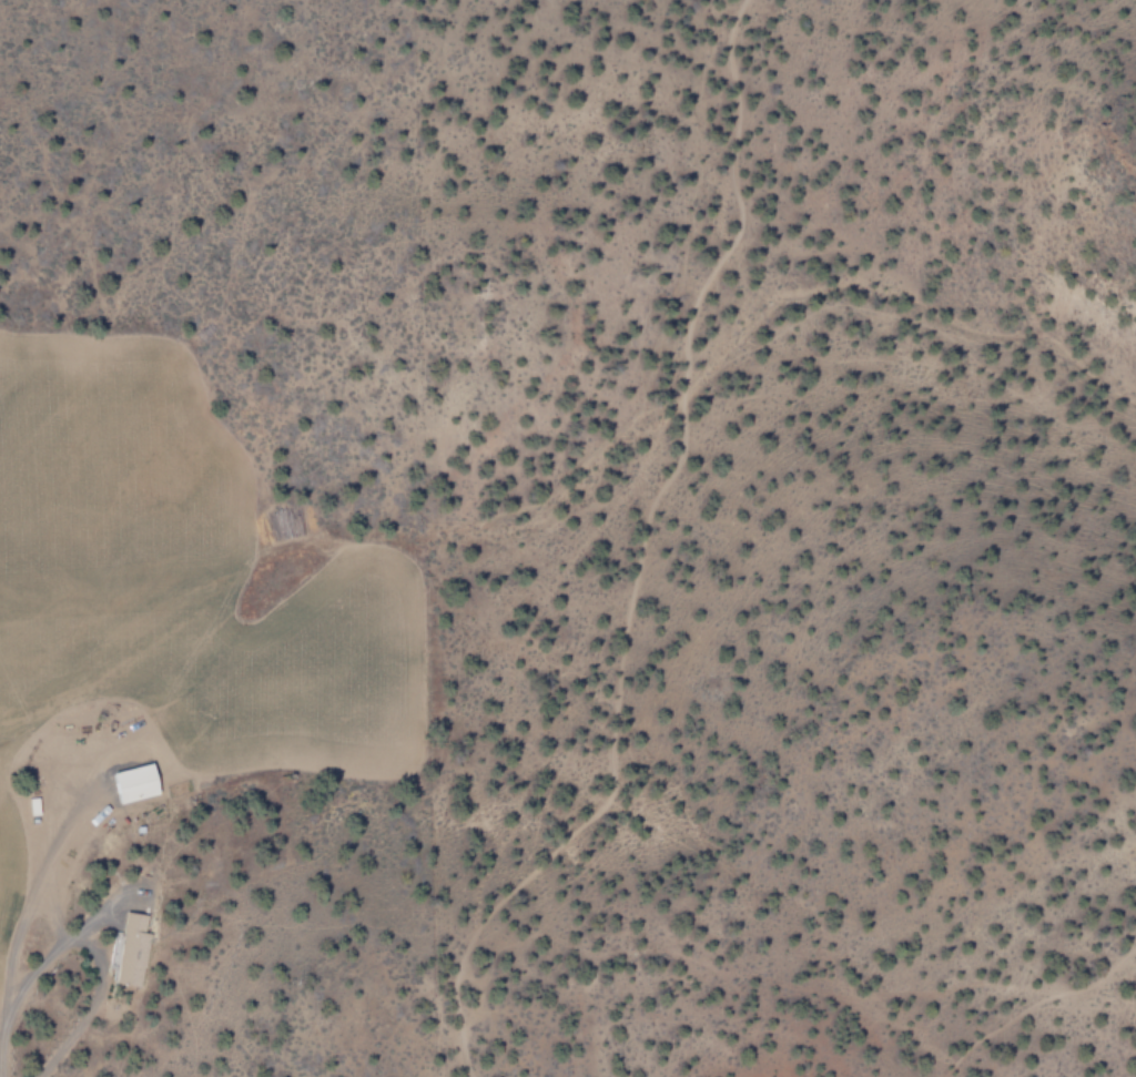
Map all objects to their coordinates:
crop: (94, 631)
building: (129, 782)
building: (131, 949)
road: (6, 1002)

